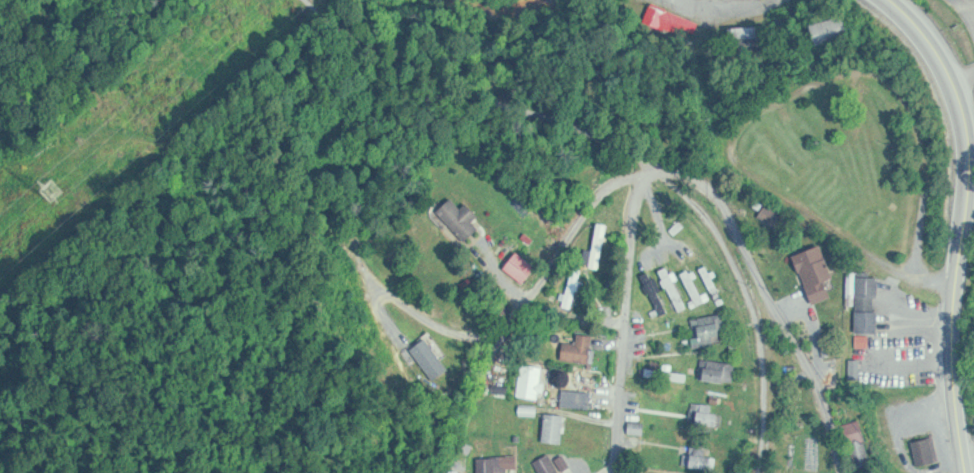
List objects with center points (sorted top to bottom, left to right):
road: (741, 1)
road: (749, 3)
river: (496, 14)
building: (675, 20)
building: (832, 29)
building: (756, 37)
road: (416, 68)
road: (960, 77)
building: (821, 114)
building: (867, 116)
building: (807, 142)
building: (828, 167)
building: (807, 175)
power tower: (33, 180)
building: (829, 187)
road: (782, 194)
building: (850, 199)
building: (897, 207)
building: (871, 212)
building: (775, 217)
building: (463, 218)
road: (961, 223)
building: (892, 226)
road: (723, 244)
road: (628, 263)
building: (522, 267)
building: (818, 272)
road: (936, 276)
building: (715, 284)
building: (676, 288)
building: (657, 293)
building: (867, 298)
road: (522, 310)
building: (712, 330)
road: (781, 330)
building: (581, 350)
building: (862, 350)
building: (858, 369)
building: (722, 371)
building: (532, 381)
building: (579, 399)
building: (712, 417)
building: (556, 428)
building: (929, 451)
building: (496, 464)
building: (549, 465)

